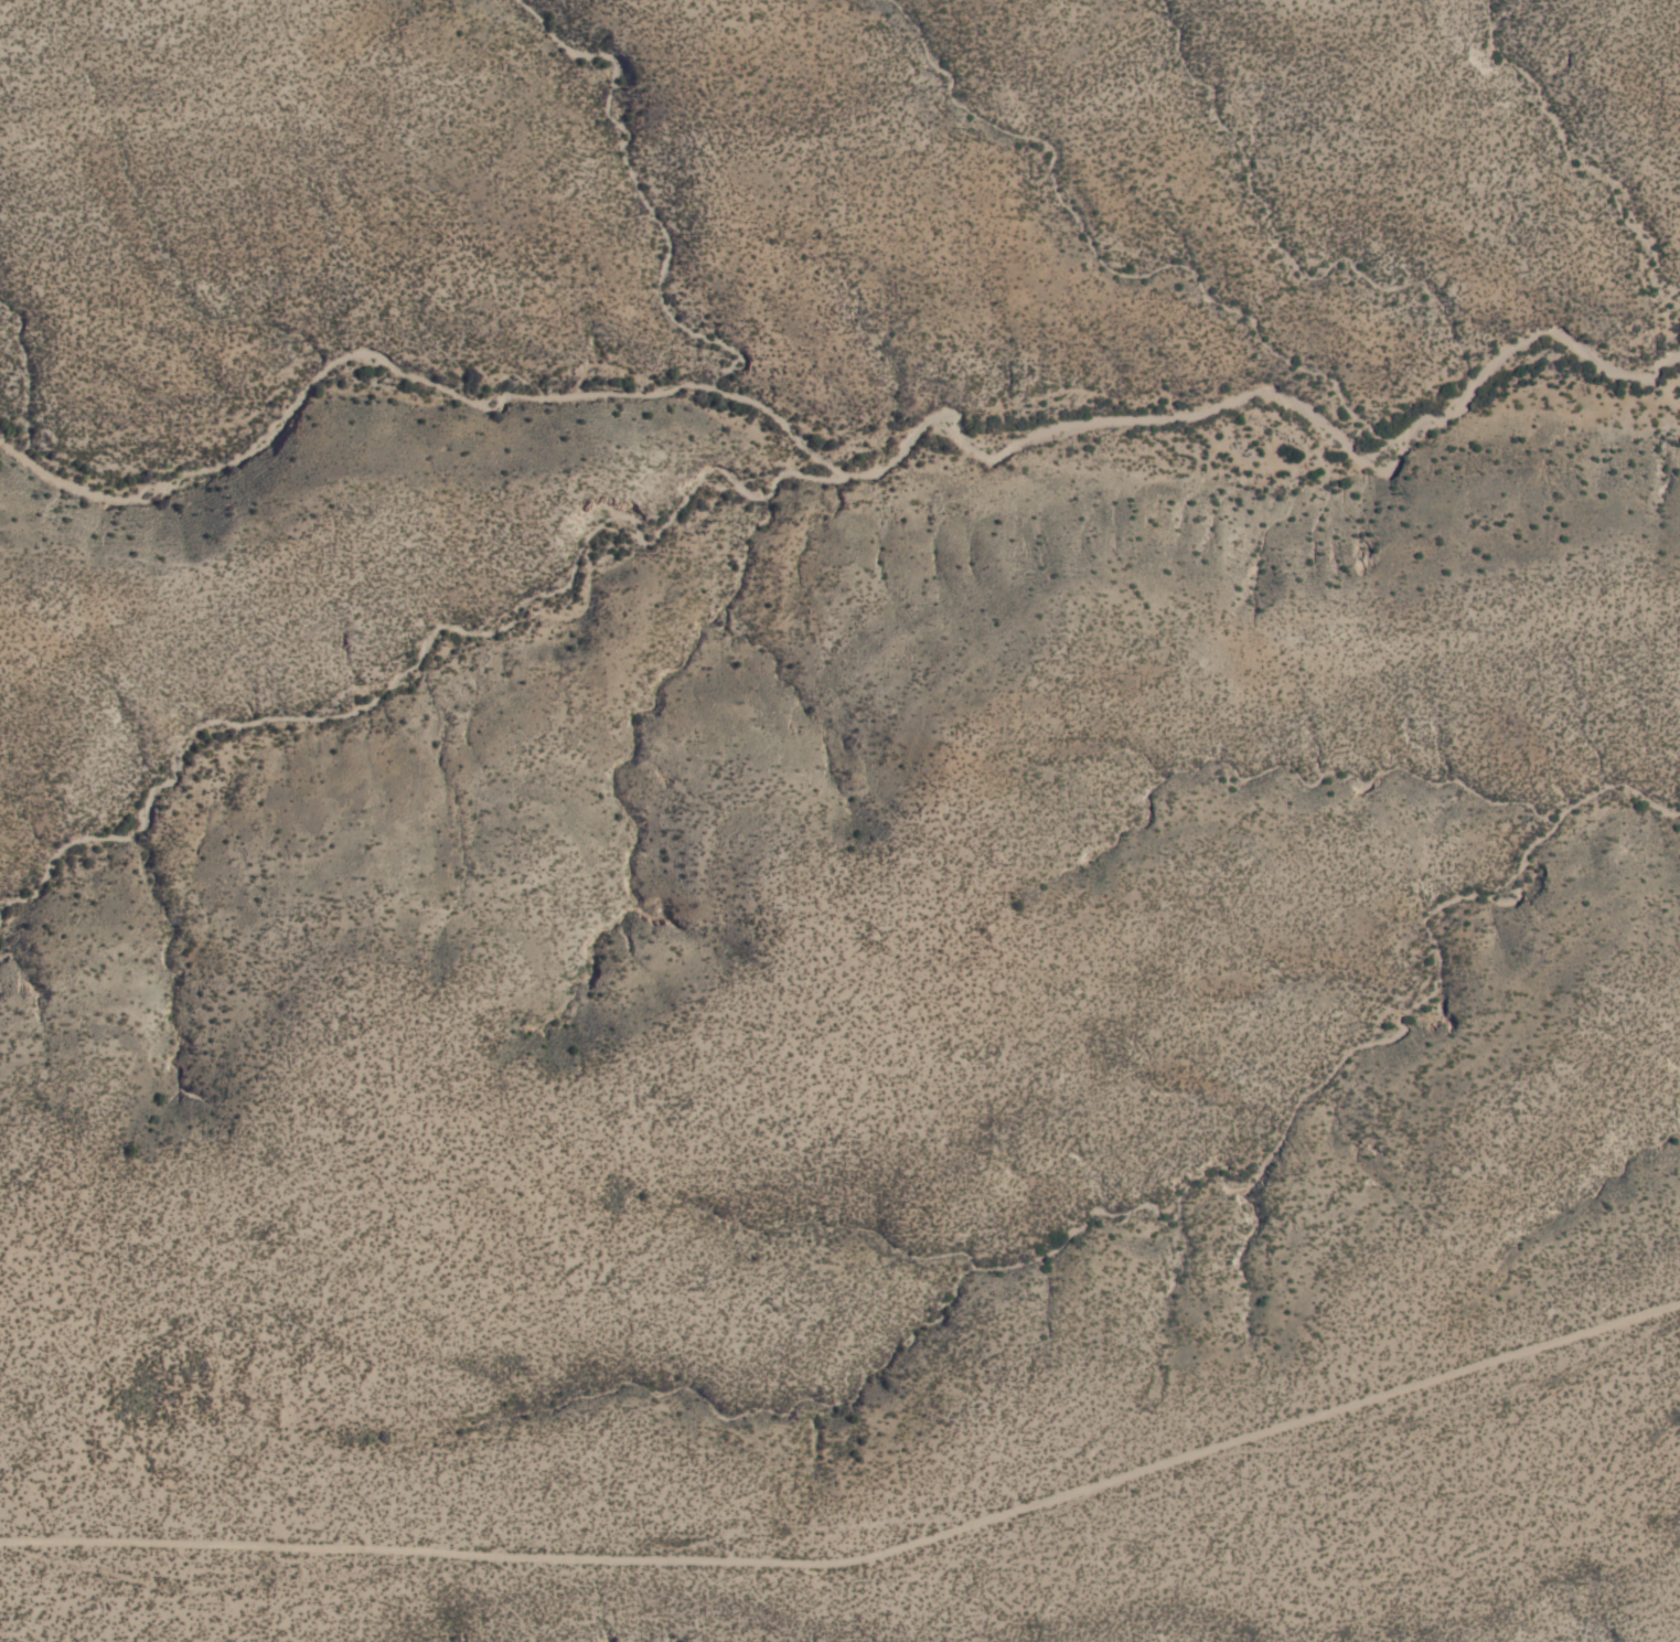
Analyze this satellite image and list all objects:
road: (859, 1560)

